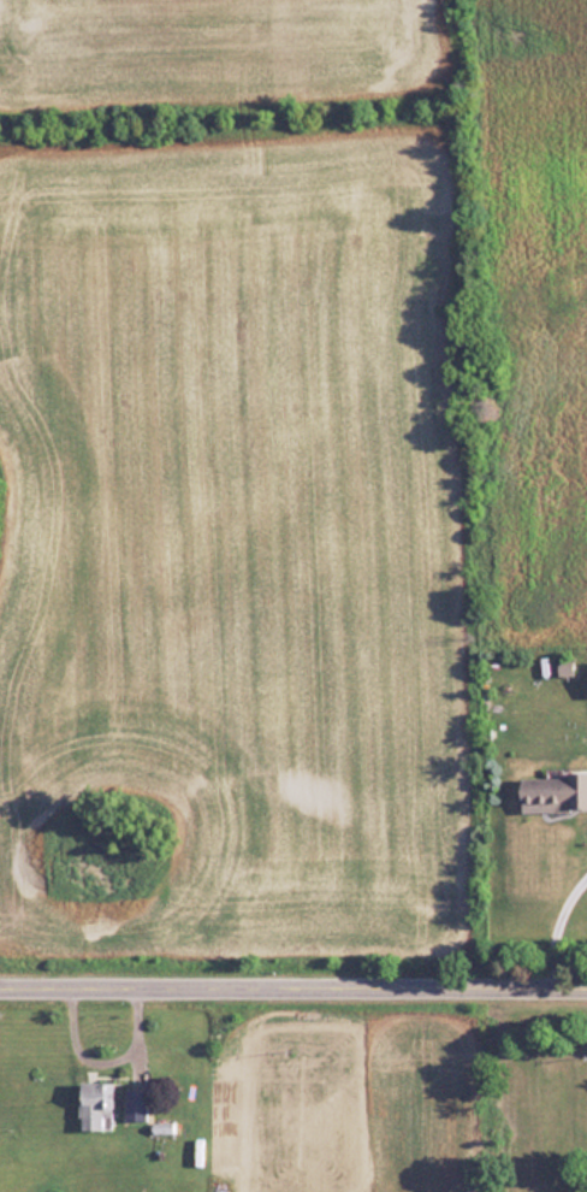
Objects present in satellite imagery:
building: (553, 790)
road: (293, 982)
building: (95, 1104)

